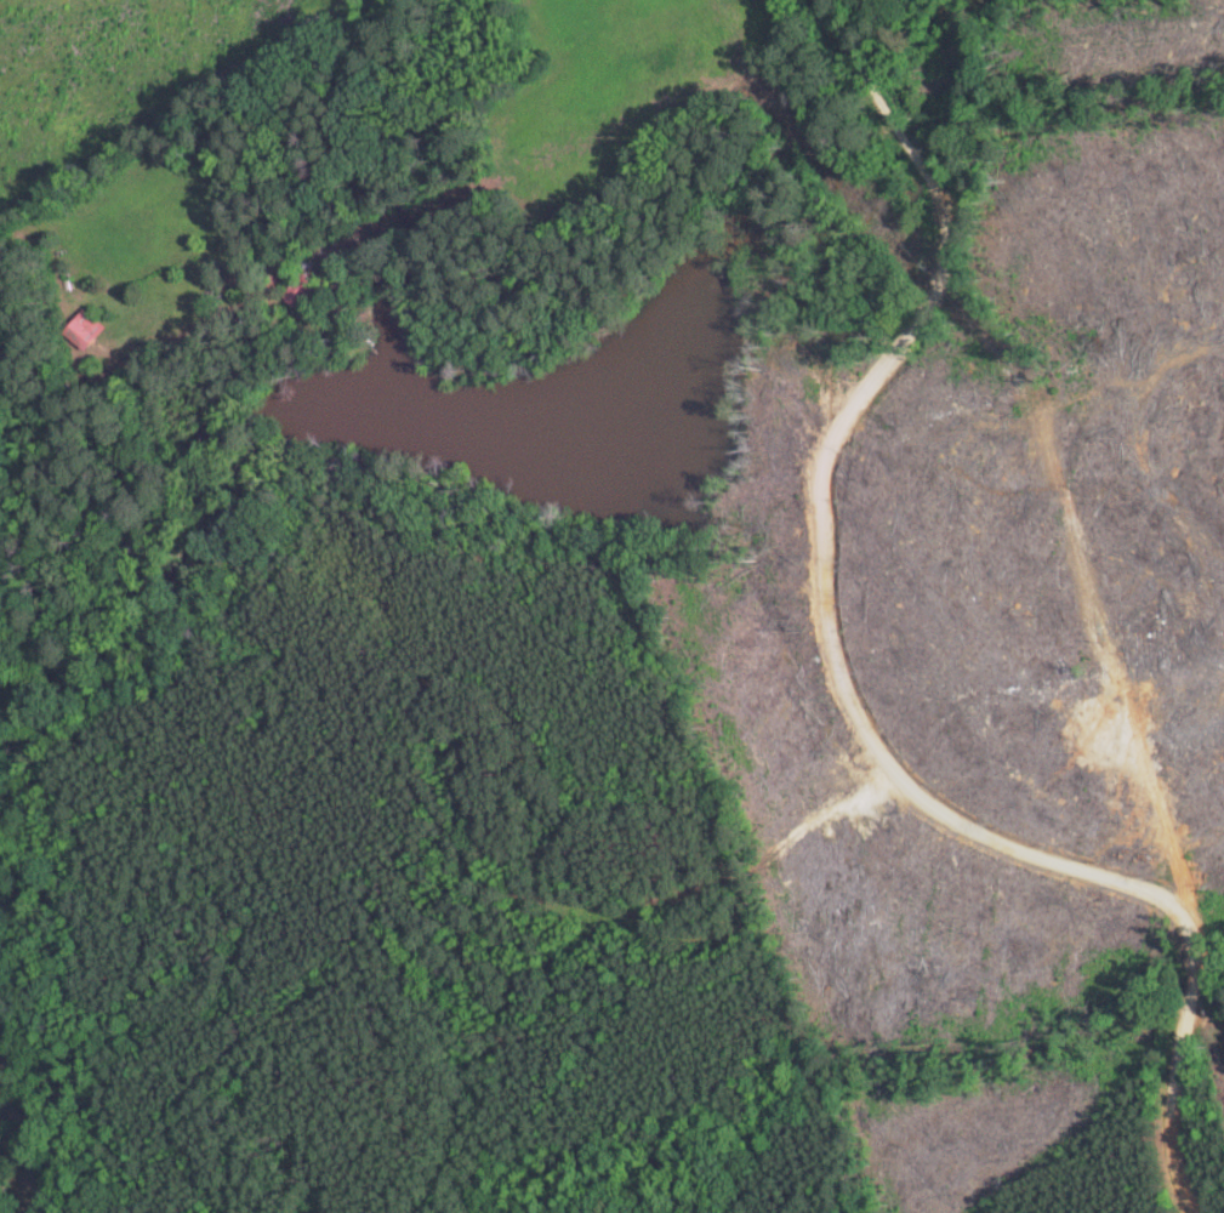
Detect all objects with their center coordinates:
building: (306, 290)
building: (90, 329)
road: (859, 535)
road: (1209, 1127)

